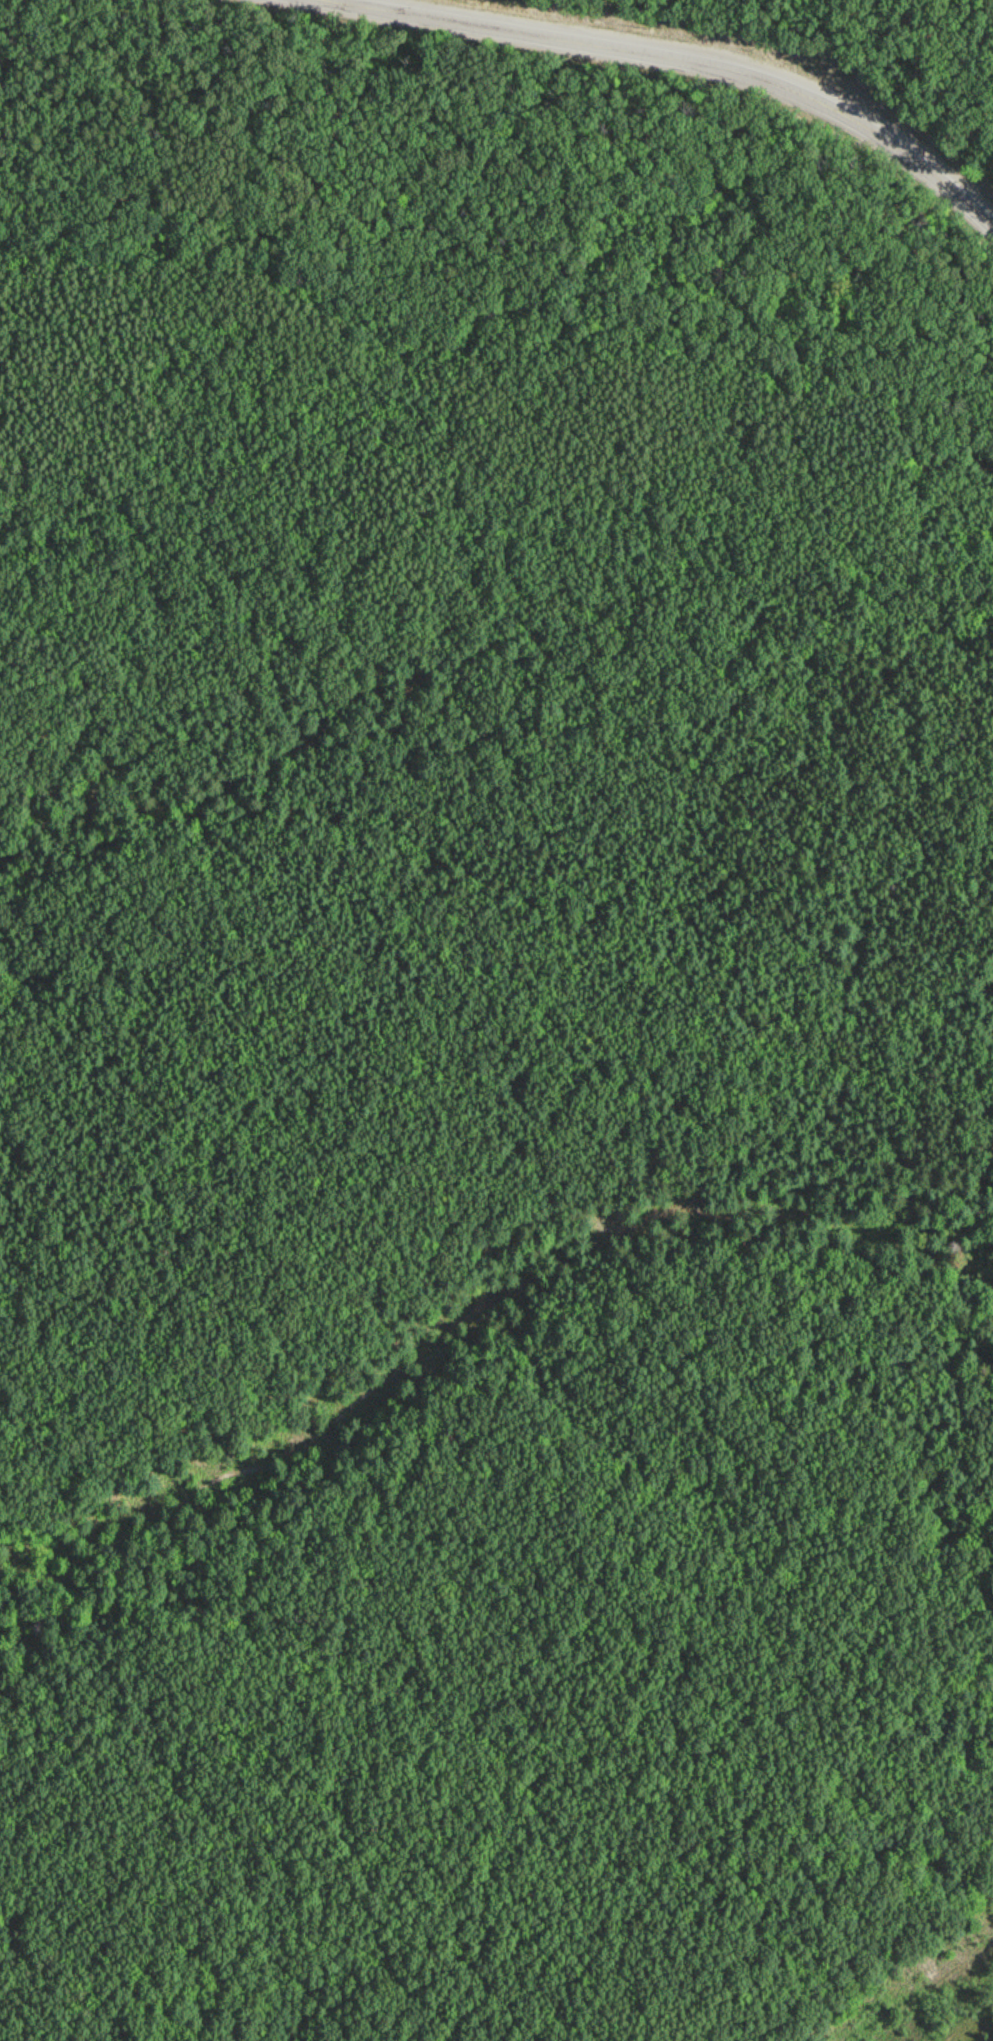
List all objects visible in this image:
road: (690, 60)
road: (395, 1366)
road: (988, 1588)

